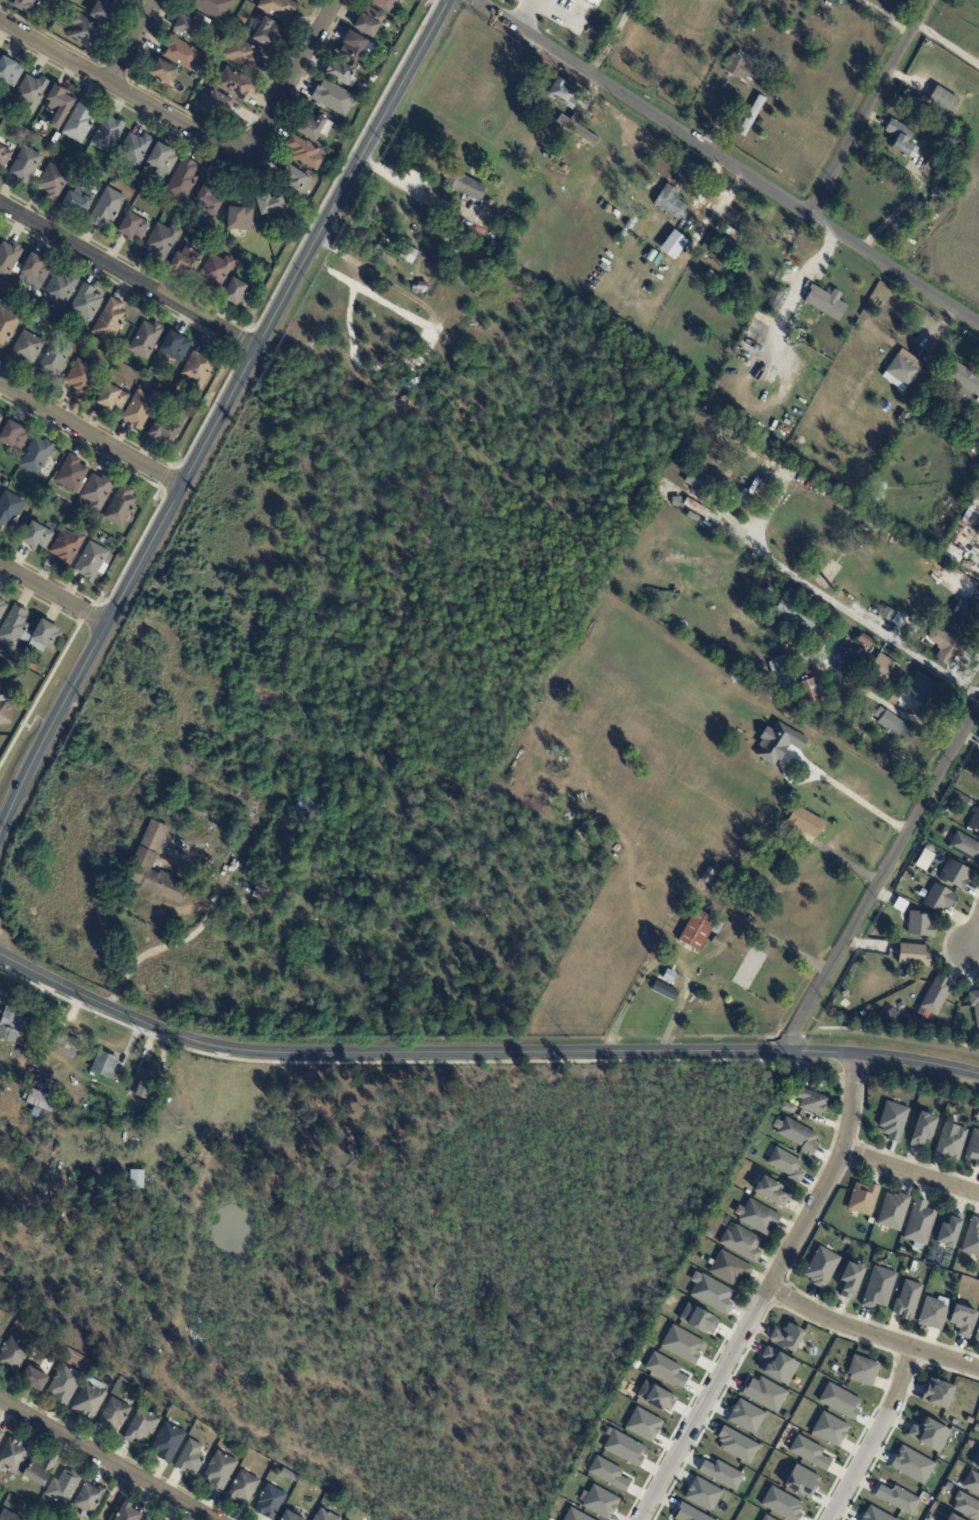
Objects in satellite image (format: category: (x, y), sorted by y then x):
building: (123, 0)
building: (591, 2)
building: (384, 4)
building: (543, 4)
building: (26, 6)
building: (213, 7)
building: (279, 8)
building: (105, 11)
road: (526, 14)
building: (370, 22)
building: (192, 23)
building: (788, 30)
building: (85, 32)
building: (268, 34)
road: (135, 42)
building: (354, 47)
road: (950, 47)
building: (181, 53)
building: (245, 56)
building: (669, 60)
building: (744, 70)
building: (10, 72)
building: (343, 74)
building: (164, 76)
road: (293, 79)
building: (372, 81)
building: (237, 85)
road: (124, 90)
building: (31, 93)
building: (564, 94)
building: (334, 98)
building: (943, 100)
building: (218, 104)
building: (59, 106)
road: (874, 107)
building: (3, 111)
building: (753, 116)
building: (80, 122)
building: (315, 126)
building: (579, 131)
building: (108, 135)
building: (56, 139)
building: (904, 139)
building: (136, 150)
building: (306, 153)
building: (4, 157)
building: (163, 159)
road: (726, 161)
building: (25, 166)
building: (564, 168)
building: (54, 182)
building: (184, 182)
building: (298, 183)
building: (465, 185)
building: (142, 186)
building: (943, 186)
building: (926, 201)
building: (76, 203)
building: (209, 203)
building: (672, 203)
building: (272, 206)
building: (107, 208)
building: (241, 219)
building: (632, 223)
building: (134, 228)
building: (623, 235)
building: (740, 239)
building: (163, 241)
building: (672, 244)
building: (704, 246)
building: (409, 255)
building: (453, 256)
building: (8, 260)
building: (187, 262)
building: (217, 271)
building: (36, 272)
road: (129, 274)
building: (711, 275)
building: (421, 288)
building: (734, 288)
building: (61, 291)
building: (239, 294)
building: (776, 299)
building: (86, 304)
building: (827, 304)
building: (41, 308)
building: (36, 320)
building: (110, 322)
building: (7, 326)
building: (884, 334)
building: (93, 341)
building: (147, 341)
building: (176, 348)
building: (27, 349)
building: (54, 362)
building: (199, 372)
building: (900, 372)
building: (83, 376)
building: (964, 380)
building: (917, 398)
building: (113, 401)
building: (978, 401)
building: (142, 409)
road: (218, 418)
building: (1, 420)
building: (150, 427)
building: (168, 428)
road: (90, 436)
building: (14, 437)
building: (731, 440)
building: (396, 443)
building: (717, 448)
building: (37, 457)
building: (770, 466)
building: (72, 475)
building: (698, 483)
building: (669, 488)
building: (97, 494)
building: (877, 494)
building: (746, 500)
building: (677, 502)
building: (122, 508)
building: (701, 510)
building: (9, 511)
building: (77, 513)
building: (64, 520)
building: (37, 539)
building: (121, 540)
building: (102, 541)
building: (68, 548)
building: (974, 552)
building: (93, 564)
building: (780, 591)
building: (922, 592)
building: (0, 594)
road: (53, 594)
building: (0, 595)
building: (2, 607)
road: (847, 612)
building: (967, 613)
building: (799, 615)
building: (907, 626)
building: (16, 627)
building: (45, 636)
building: (867, 640)
building: (766, 647)
building: (948, 647)
building: (0, 649)
building: (886, 671)
building: (783, 672)
building: (811, 691)
building: (915, 693)
building: (5, 711)
building: (892, 723)
road: (859, 801)
building: (312, 805)
building: (787, 807)
building: (974, 821)
building: (808, 822)
building: (584, 831)
building: (964, 846)
building: (145, 858)
building: (931, 873)
building: (953, 874)
road: (887, 877)
building: (268, 886)
building: (916, 889)
building: (938, 897)
building: (919, 923)
building: (697, 928)
building: (880, 934)
road: (184, 938)
road: (975, 938)
building: (664, 939)
building: (912, 954)
building: (862, 961)
building: (746, 968)
building: (671, 976)
building: (845, 994)
building: (935, 994)
building: (662, 997)
building: (974, 1004)
building: (716, 1005)
building: (960, 1017)
building: (20, 1029)
building: (66, 1046)
road: (480, 1054)
building: (105, 1065)
building: (146, 1085)
building: (40, 1100)
building: (810, 1100)
building: (787, 1107)
building: (70, 1111)
building: (977, 1113)
building: (892, 1119)
building: (922, 1130)
building: (798, 1135)
building: (951, 1142)
building: (973, 1147)
building: (786, 1164)
road: (913, 1173)
building: (137, 1178)
building: (769, 1190)
building: (862, 1198)
building: (892, 1210)
building: (756, 1216)
building: (919, 1222)
building: (949, 1230)
building: (708, 1233)
building: (972, 1238)
building: (846, 1240)
building: (740, 1242)
building: (901, 1249)
building: (912, 1266)
building: (821, 1267)
building: (729, 1268)
building: (850, 1279)
building: (878, 1288)
road: (766, 1291)
building: (710, 1293)
building: (906, 1299)
building: (932, 1312)
building: (697, 1318)
building: (962, 1320)
building: (976, 1334)
road: (870, 1335)
building: (786, 1337)
building: (1, 1341)
building: (682, 1344)
building: (13, 1355)
building: (777, 1365)
building: (665, 1369)
building: (861, 1370)
building: (35, 1378)
building: (65, 1384)
building: (764, 1393)
building: (936, 1393)
building: (655, 1396)
building: (90, 1399)
building: (839, 1401)
building: (114, 1415)
building: (785, 1415)
building: (745, 1416)
building: (969, 1419)
building: (642, 1424)
building: (142, 1425)
building: (829, 1429)
building: (928, 1433)
building: (1, 1435)
road: (875, 1436)
building: (169, 1442)
building: (968, 1443)
building: (736, 1444)
building: (624, 1448)
building: (808, 1452)
building: (13, 1456)
road: (108, 1458)
building: (191, 1458)
building: (911, 1464)
building: (977, 1465)
building: (40, 1470)
building: (220, 1470)
building: (608, 1473)
building: (720, 1474)
building: (801, 1481)
building: (971, 1483)
building: (947, 1486)
building: (64, 1487)
building: (244, 1487)
building: (702, 1494)
building: (897, 1498)
building: (89, 1500)
building: (271, 1502)
building: (599, 1502)
building: (781, 1503)
building: (966, 1506)
building: (128, 1513)
building: (688, 1513)
building: (875, 1514)
building: (326, 1515)
building: (574, 1515)
building: (8, 1516)
building: (292, 1516)
building: (952, 1517)
building: (149, 1518)
building: (766, 1518)

